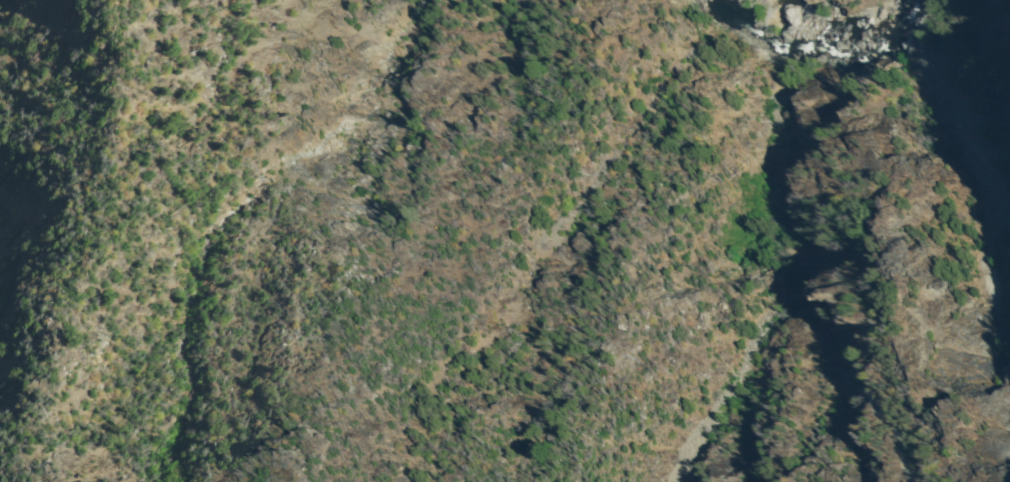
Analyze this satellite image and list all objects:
river: (791, 49)

